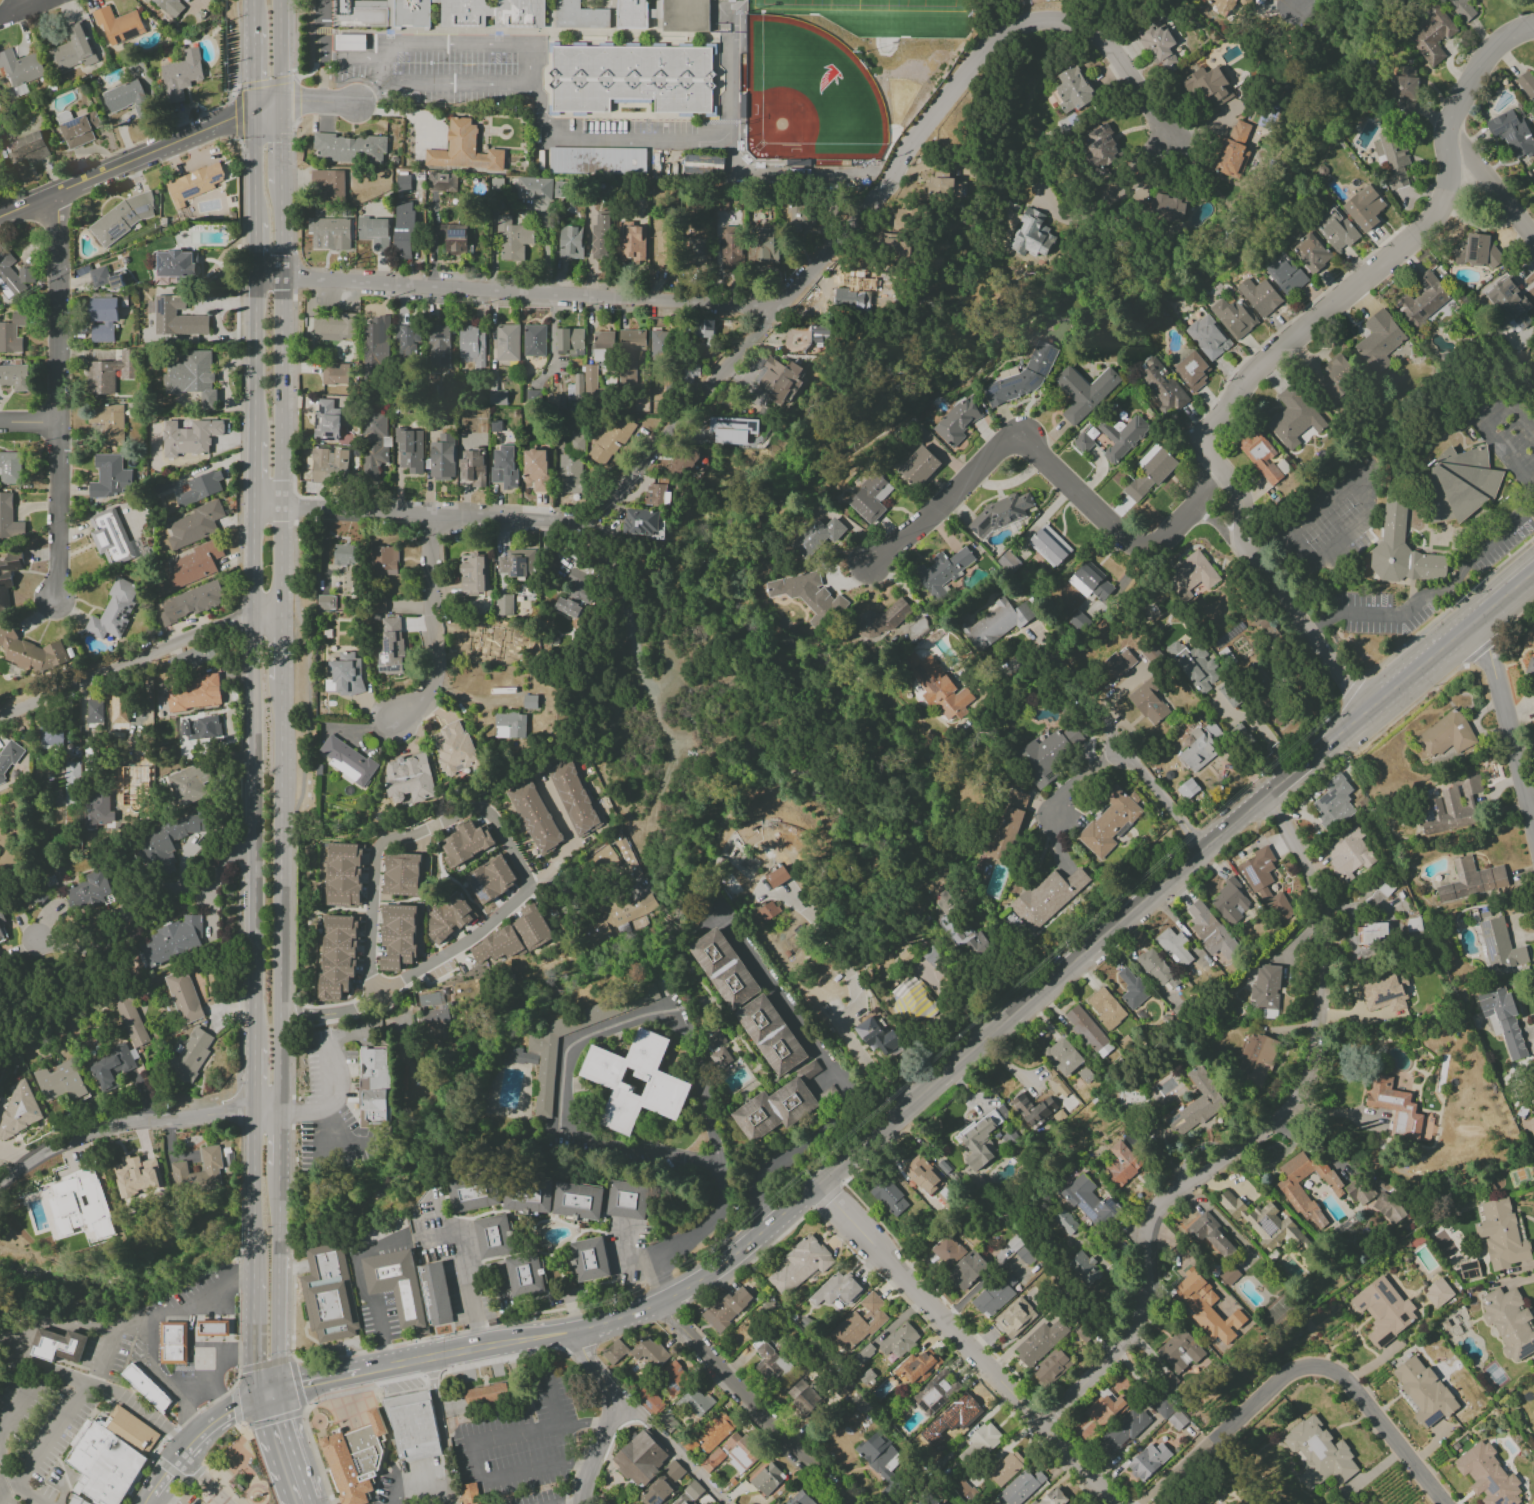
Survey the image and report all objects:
building: (1246, 1)
park: (868, 2)
park: (862, 5)
building: (1221, 5)
road: (1295, 5)
road: (14, 7)
road: (32, 7)
building: (169, 7)
building: (1463, 9)
road: (253, 12)
building: (413, 13)
building: (494, 13)
building: (634, 14)
building: (581, 15)
road: (7, 16)
building: (359, 16)
building: (687, 16)
building: (118, 25)
building: (1433, 35)
building: (349, 42)
building: (1158, 44)
road: (237, 45)
building: (72, 50)
road: (279, 53)
road: (324, 59)
building: (20, 68)
road: (254, 68)
road: (532, 69)
road: (1475, 72)
road: (307, 73)
road: (730, 74)
building: (181, 75)
building: (632, 77)
parking lot: (456, 78)
traffic signals: (254, 81)
building: (1526, 84)
road: (261, 85)
building: (1208, 87)
building: (1074, 90)
building: (1404, 91)
road: (368, 93)
building: (128, 98)
park: (805, 99)
traffic signals: (301, 102)
road: (316, 102)
road: (405, 110)
building: (63, 117)
traffic signals: (235, 117)
parking lot: (637, 127)
building: (79, 130)
building: (1512, 134)
road: (601, 141)
traffic signals: (281, 144)
road: (281, 146)
building: (1103, 147)
building: (27, 148)
building: (1234, 148)
building: (349, 149)
building: (463, 150)
road: (138, 158)
building: (1392, 159)
building: (596, 161)
building: (703, 164)
road: (255, 166)
road: (894, 167)
building: (402, 183)
building: (194, 184)
building: (329, 184)
building: (943, 186)
building: (1533, 186)
building: (533, 189)
building: (562, 189)
road: (1492, 192)
building: (1168, 208)
building: (1364, 208)
building: (800, 215)
building: (122, 218)
building: (905, 219)
building: (1336, 229)
building: (403, 230)
building: (373, 232)
building: (329, 234)
building: (1032, 234)
building: (602, 236)
building: (453, 239)
building: (512, 239)
building: (570, 242)
building: (632, 243)
building: (896, 245)
building: (762, 246)
road: (257, 247)
building: (731, 247)
building: (666, 248)
building: (1311, 251)
building: (1476, 251)
building: (698, 252)
building: (176, 264)
building: (1285, 273)
building: (13, 276)
building: (104, 278)
road: (517, 290)
building: (851, 294)
building: (1260, 296)
building: (1422, 300)
building: (1510, 302)
road: (1324, 308)
building: (174, 317)
building: (1233, 317)
building: (102, 319)
building: (334, 327)
building: (704, 328)
building: (12, 333)
building: (1208, 337)
building: (820, 339)
building: (534, 340)
building: (1379, 340)
building: (376, 341)
road: (551, 341)
building: (569, 341)
building: (631, 341)
building: (508, 344)
building: (408, 345)
building: (439, 346)
building: (471, 346)
building: (603, 346)
building: (659, 346)
road: (257, 354)
building: (1192, 370)
building: (110, 373)
building: (334, 375)
building: (14, 377)
building: (192, 377)
building: (1339, 378)
building: (780, 379)
building: (583, 383)
building: (1160, 385)
building: (1083, 392)
road: (55, 396)
building: (496, 396)
road: (284, 401)
building: (1293, 418)
building: (326, 420)
building: (958, 421)
building: (108, 422)
road: (27, 423)
road: (1484, 429)
building: (733, 430)
building: (1121, 436)
building: (189, 437)
building: (1085, 439)
building: (373, 445)
road: (1020, 445)
building: (410, 451)
building: (1260, 456)
building: (442, 458)
building: (685, 463)
building: (330, 465)
building: (571, 465)
building: (504, 466)
building: (918, 466)
building: (473, 467)
building: (9, 468)
building: (536, 469)
road: (256, 472)
building: (1150, 475)
building: (110, 476)
building: (1460, 484)
building: (200, 488)
road: (1358, 489)
building: (656, 495)
building: (870, 498)
road: (1195, 505)
road: (270, 509)
building: (1001, 513)
road: (436, 515)
building: (9, 519)
building: (640, 521)
building: (195, 525)
building: (817, 536)
building: (110, 537)
building: (1049, 546)
building: (1401, 548)
building: (344, 555)
building: (383, 561)
building: (1008, 562)
road: (256, 563)
building: (516, 563)
building: (195, 564)
building: (944, 569)
building: (472, 574)
building: (1191, 575)
building: (8, 576)
building: (1090, 581)
building: (577, 592)
road: (1434, 593)
building: (807, 596)
road: (1280, 599)
building: (191, 602)
building: (325, 602)
building: (503, 604)
building: (114, 610)
road: (270, 617)
building: (997, 623)
road: (432, 629)
building: (488, 640)
road: (1452, 640)
building: (391, 646)
road: (285, 648)
building: (33, 652)
building: (187, 658)
building: (1119, 662)
road: (126, 663)
building: (1195, 665)
building: (1531, 668)
building: (345, 675)
road: (1070, 681)
building: (939, 687)
building: (1532, 692)
building: (193, 694)
building: (529, 702)
building: (1148, 702)
building: (119, 710)
building: (94, 711)
road: (1506, 721)
building: (510, 725)
building: (197, 727)
road: (1260, 729)
road: (1110, 734)
building: (50, 736)
building: (1446, 736)
building: (1202, 747)
building: (453, 748)
building: (1045, 756)
building: (8, 761)
building: (347, 761)
building: (408, 778)
road: (1073, 780)
building: (188, 784)
building: (1187, 789)
building: (575, 797)
building: (1333, 802)
road: (1168, 803)
building: (1452, 806)
building: (535, 818)
building: (1110, 822)
building: (1006, 825)
road: (253, 830)
road: (404, 837)
road: (570, 840)
building: (168, 842)
building: (466, 842)
building: (1348, 855)
building: (604, 859)
building: (627, 859)
building: (343, 874)
building: (404, 875)
building: (777, 877)
building: (491, 880)
building: (1471, 881)
building: (1264, 882)
building: (89, 891)
road: (283, 894)
building: (1047, 897)
building: (1229, 902)
road: (151, 903)
building: (767, 911)
building: (1, 915)
building: (617, 915)
building: (449, 917)
building: (1414, 926)
building: (532, 928)
building: (1210, 930)
building: (1372, 933)
building: (1, 935)
building: (398, 937)
building: (966, 939)
building: (171, 941)
building: (1498, 942)
building: (498, 946)
building: (1173, 946)
building: (338, 956)
building: (932, 956)
building: (0, 961)
building: (721, 968)
building: (1157, 968)
road: (411, 973)
building: (1266, 987)
building: (1132, 988)
building: (1385, 995)
building: (182, 996)
road: (850, 1000)
building: (913, 1002)
building: (1105, 1008)
building: (434, 1010)
building: (130, 1019)
building: (1502, 1019)
building: (1087, 1030)
road: (343, 1034)
building: (769, 1035)
building: (877, 1037)
building: (713, 1039)
road: (577, 1040)
building: (533, 1049)
building: (189, 1055)
building: (1062, 1056)
building: (720, 1057)
building: (1255, 1058)
building: (111, 1067)
road: (257, 1077)
building: (59, 1082)
building: (639, 1082)
road: (841, 1082)
building: (374, 1088)
road: (925, 1093)
road: (329, 1100)
building: (1197, 1104)
building: (1398, 1109)
building: (18, 1110)
building: (773, 1110)
building: (1037, 1111)
road: (291, 1118)
road: (135, 1122)
road: (1252, 1136)
road: (282, 1139)
building: (981, 1140)
road: (256, 1148)
building: (1122, 1164)
road: (241, 1165)
building: (197, 1174)
building: (922, 1175)
building: (137, 1179)
building: (482, 1193)
building: (1296, 1195)
building: (535, 1196)
building: (889, 1197)
building: (634, 1200)
building: (1375, 1200)
building: (586, 1201)
building: (1090, 1202)
road: (281, 1204)
building: (79, 1206)
road: (254, 1214)
road: (241, 1215)
road: (289, 1219)
building: (1066, 1223)
building: (1264, 1223)
building: (1210, 1234)
road: (438, 1235)
road: (686, 1235)
building: (1501, 1235)
road: (240, 1237)
building: (500, 1237)
building: (1021, 1250)
building: (947, 1251)
building: (596, 1260)
road: (253, 1261)
building: (800, 1264)
road: (466, 1267)
building: (1084, 1268)
building: (967, 1270)
building: (1229, 1275)
building: (531, 1276)
building: (397, 1285)
road: (358, 1289)
building: (838, 1290)
road: (291, 1293)
building: (435, 1293)
building: (1438, 1293)
building: (335, 1294)
building: (995, 1295)
building: (725, 1309)
building: (1208, 1309)
building: (1383, 1311)
road: (281, 1316)
building: (1015, 1318)
building: (1509, 1321)
building: (862, 1322)
road: (60, 1325)
building: (217, 1330)
flagpole: (457, 1330)
road: (149, 1334)
road: (253, 1338)
building: (899, 1340)
building: (1040, 1342)
building: (178, 1345)
road: (968, 1346)
building: (63, 1348)
building: (1179, 1351)
building: (614, 1352)
building: (649, 1352)
building: (864, 1354)
road: (100, 1355)
road: (217, 1355)
traffic signals: (253, 1360)
building: (770, 1361)
road: (390, 1366)
building: (919, 1367)
building: (1051, 1367)
road: (1298, 1367)
road: (577, 1368)
road: (433, 1374)
building: (673, 1378)
road: (320, 1380)
road: (34, 1384)
road: (297, 1385)
traffic signals: (301, 1385)
road: (367, 1386)
building: (151, 1391)
building: (1423, 1391)
building: (935, 1392)
road: (269, 1393)
road: (223, 1394)
building: (492, 1394)
building: (803, 1396)
building: (1533, 1396)
road: (80, 1397)
building: (695, 1401)
road: (238, 1402)
road: (550, 1402)
road: (755, 1403)
road: (235, 1405)
traffic signals: (228, 1406)
building: (1105, 1408)
road: (184, 1410)
road: (609, 1413)
building: (1169, 1414)
building: (960, 1418)
building: (668, 1421)
traffic signals: (284, 1422)
road: (590, 1422)
road: (443, 1423)
parking lot: (39, 1424)
road: (242, 1425)
building: (417, 1425)
building: (1124, 1429)
building: (132, 1430)
road: (194, 1431)
building: (711, 1433)
road: (671, 1446)
road: (291, 1447)
road: (270, 1451)
road: (467, 1451)
building: (732, 1454)
building: (1319, 1454)
road: (316, 1457)
building: (359, 1459)
building: (1148, 1460)
road: (231, 1461)
road: (304, 1461)
building: (643, 1461)
road: (169, 1464)
building: (108, 1465)
road: (575, 1465)
building: (1006, 1468)
building: (673, 1470)
building: (1487, 1476)
road: (201, 1478)
road: (178, 1479)
building: (767, 1479)
road: (416, 1484)
road: (157, 1486)
road: (189, 1486)
building: (1020, 1487)
building: (658, 1492)
building: (468, 1494)
building: (689, 1494)
road: (26, 1495)
road: (168, 1495)
building: (800, 1498)
building: (80, 1500)
road: (217, 1501)
road: (574, 1501)
building: (94, 1502)
building: (103, 1502)
road: (150, 1502)
building: (936, 1503)

